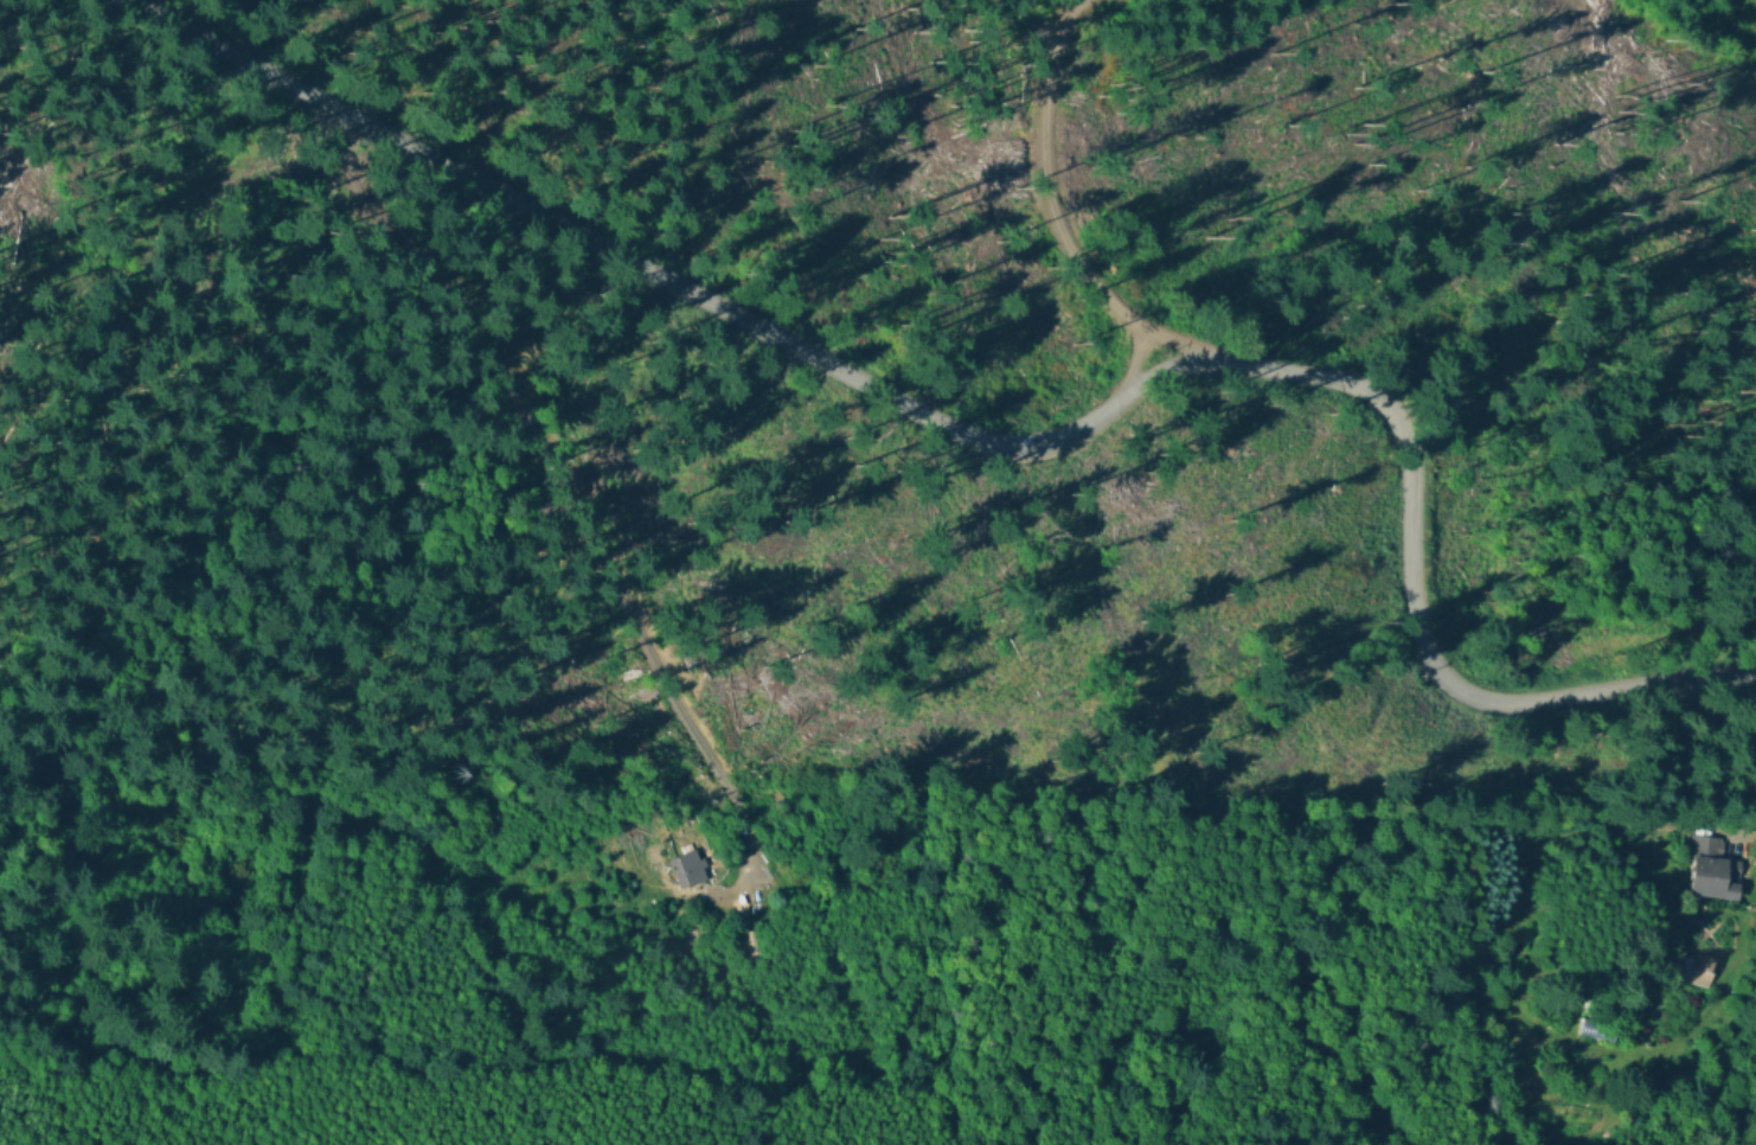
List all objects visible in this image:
road: (1040, 439)
building: (685, 870)
building: (1703, 870)
building: (749, 948)
building: (1698, 972)
building: (1592, 1031)

